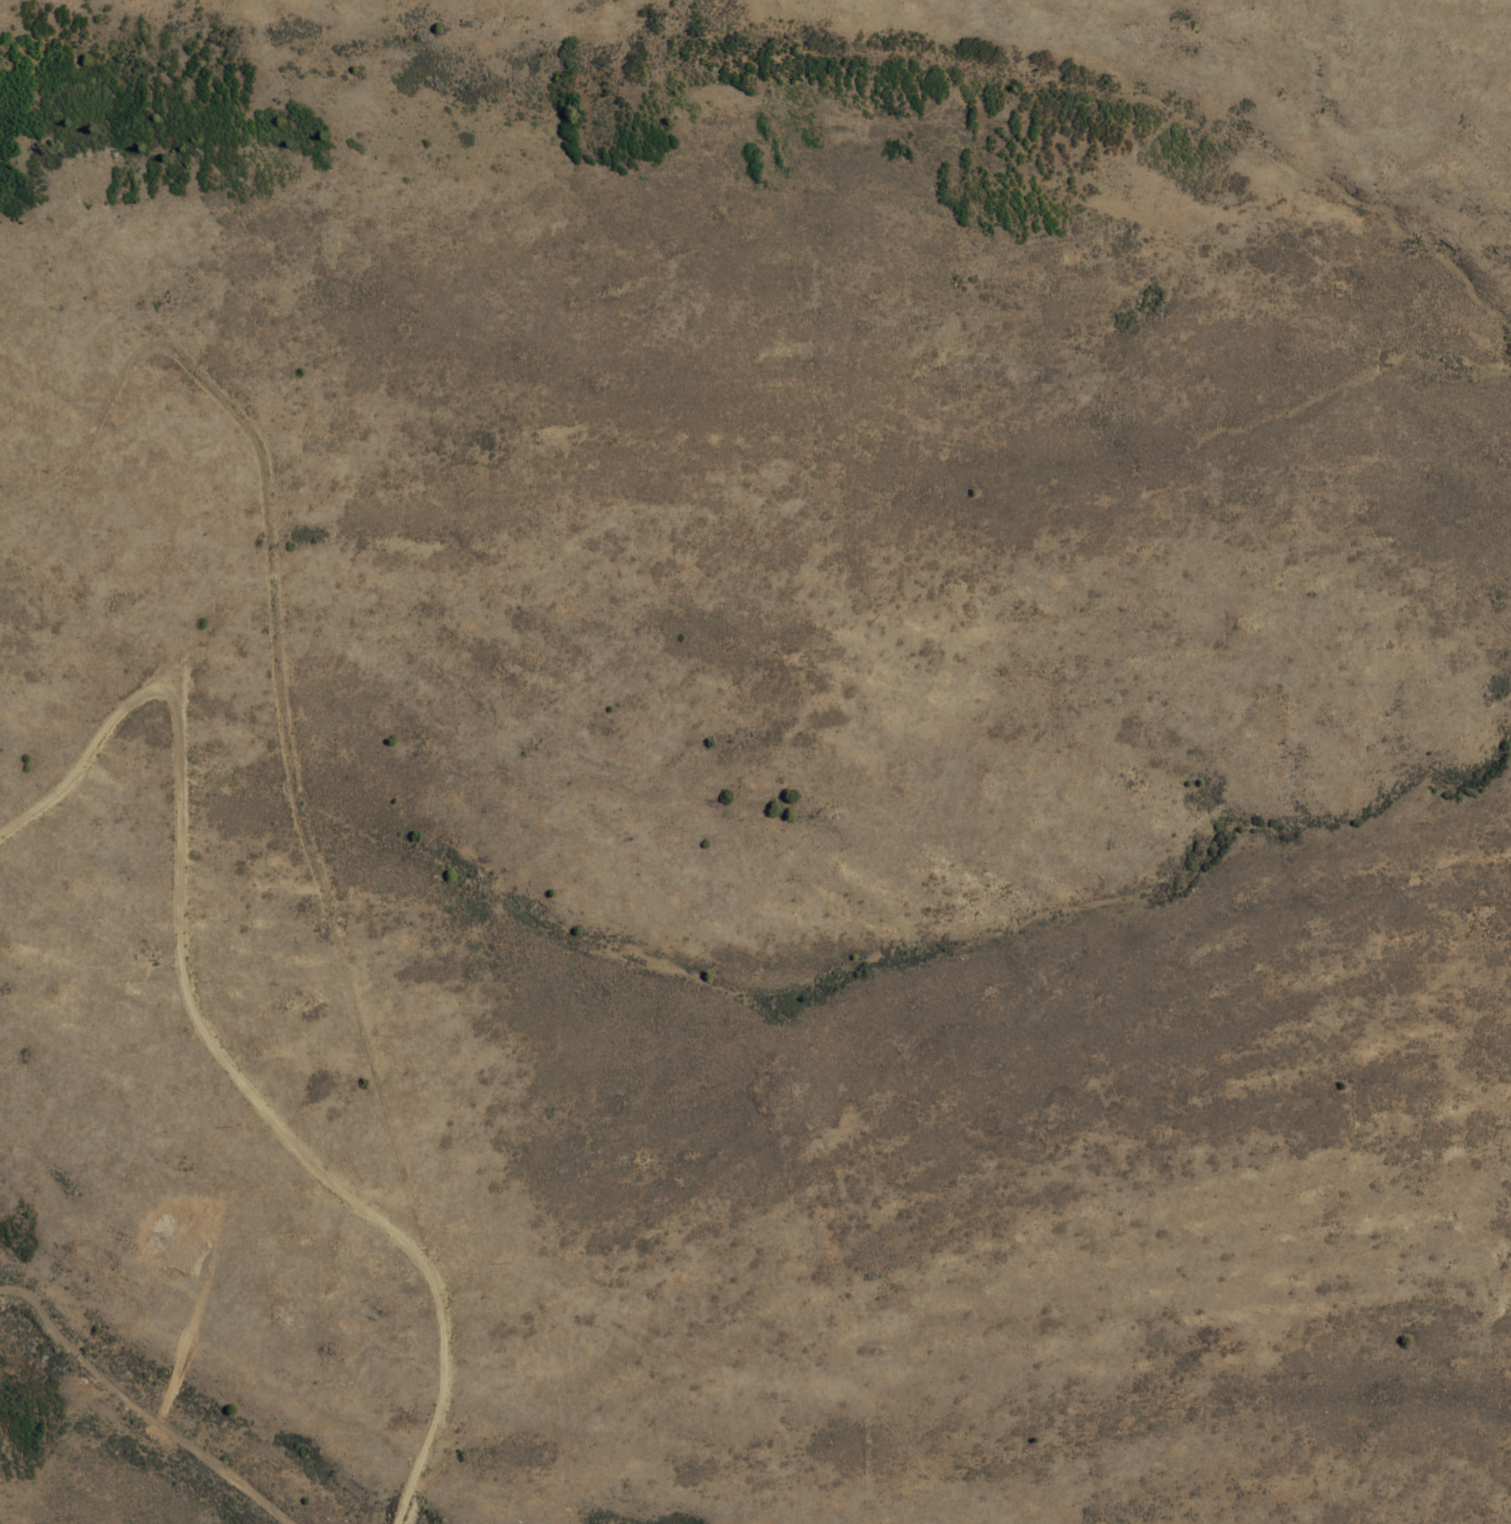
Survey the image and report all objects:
road: (148, 1414)

